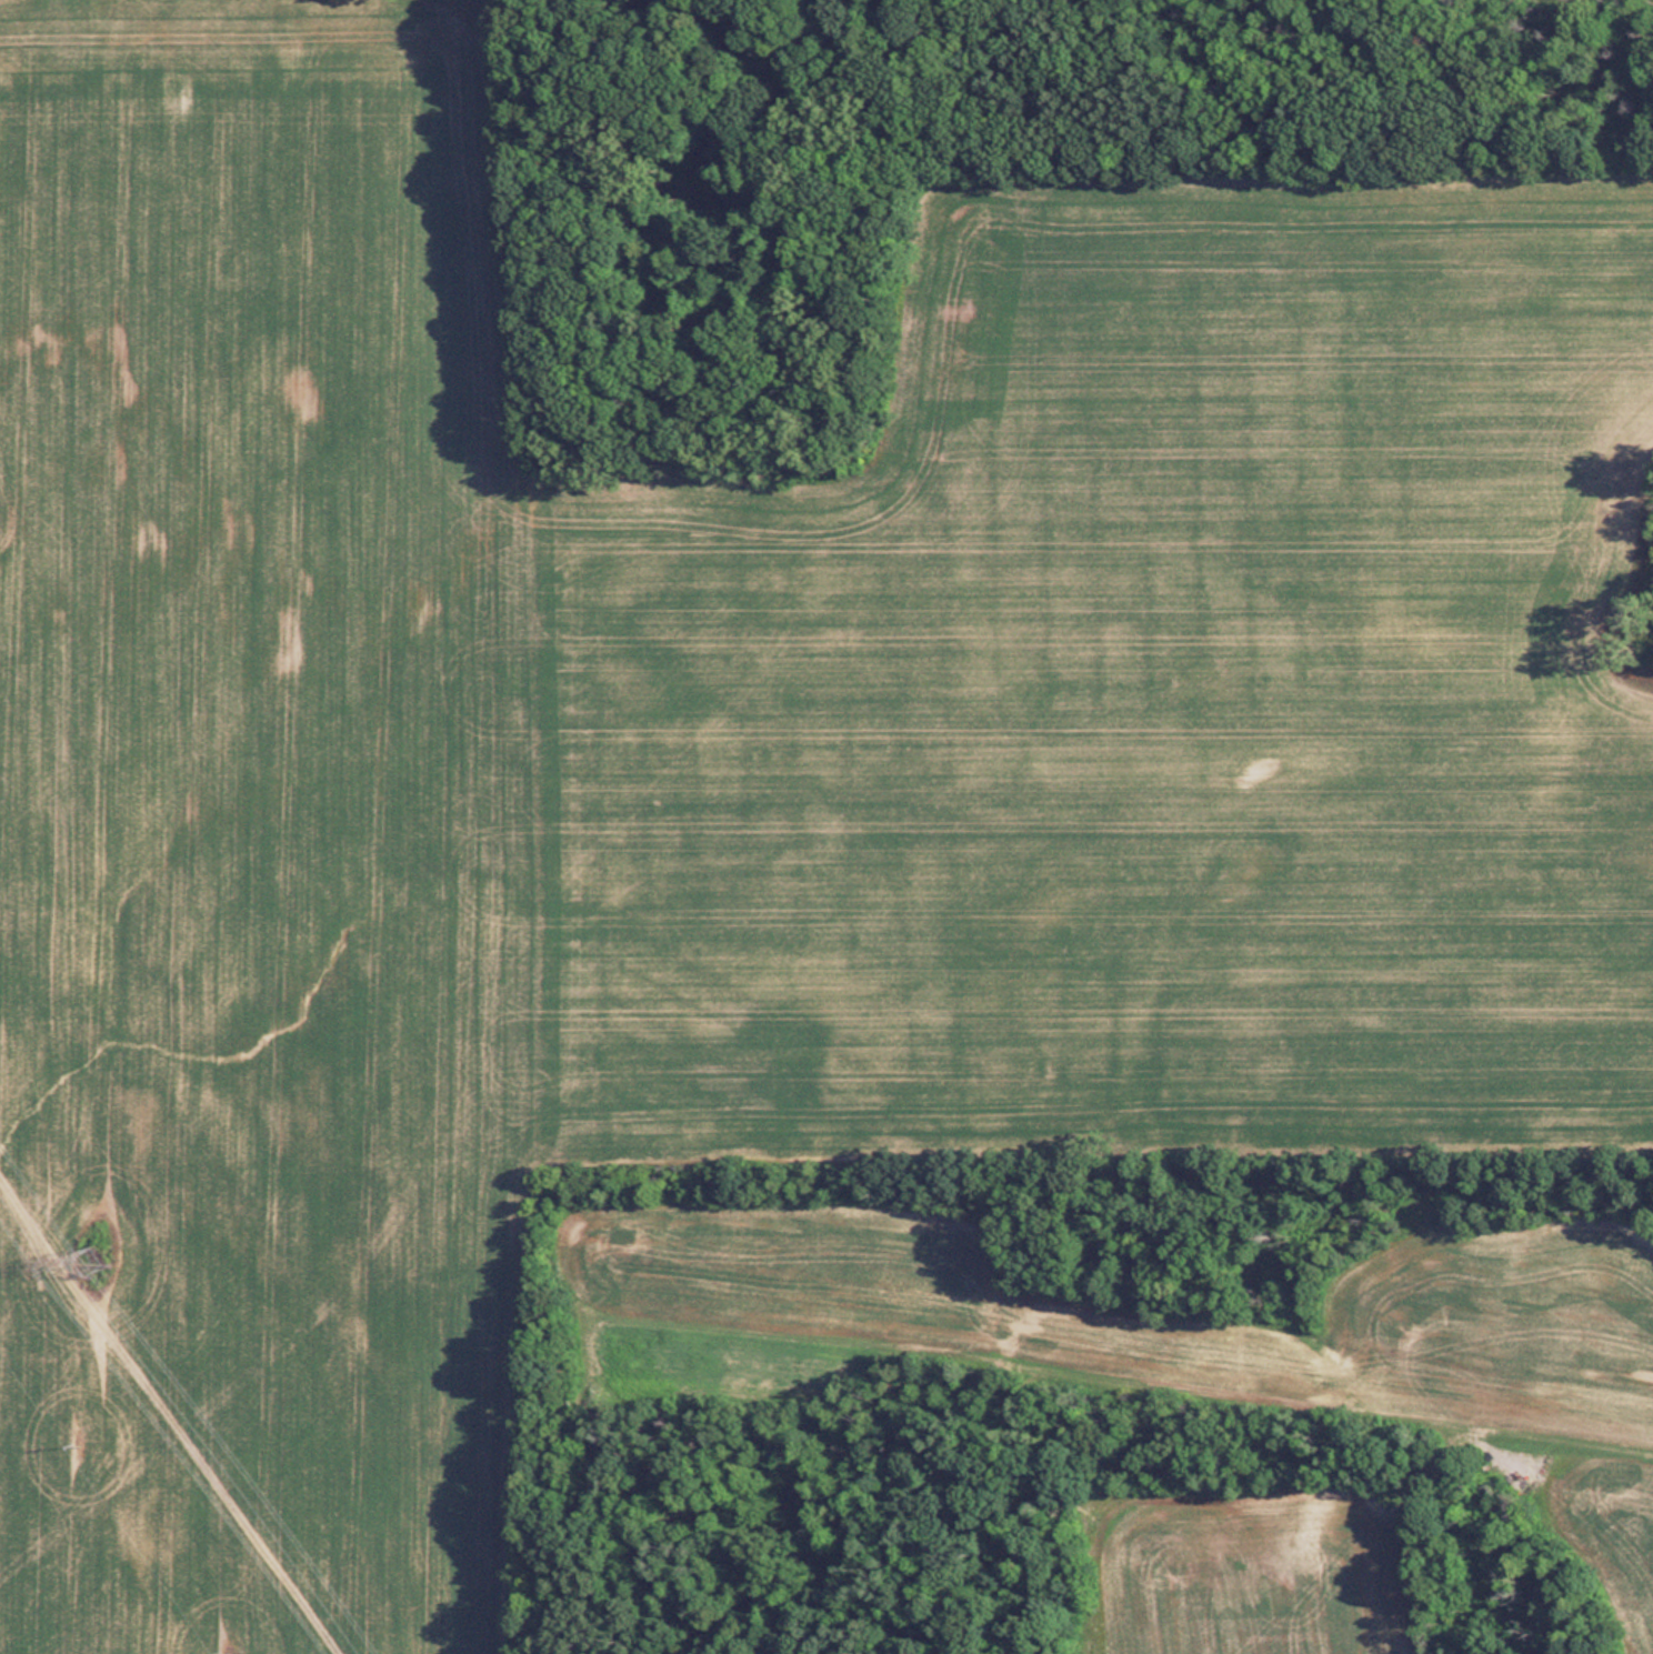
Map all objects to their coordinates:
power tower: (86, 1262)

